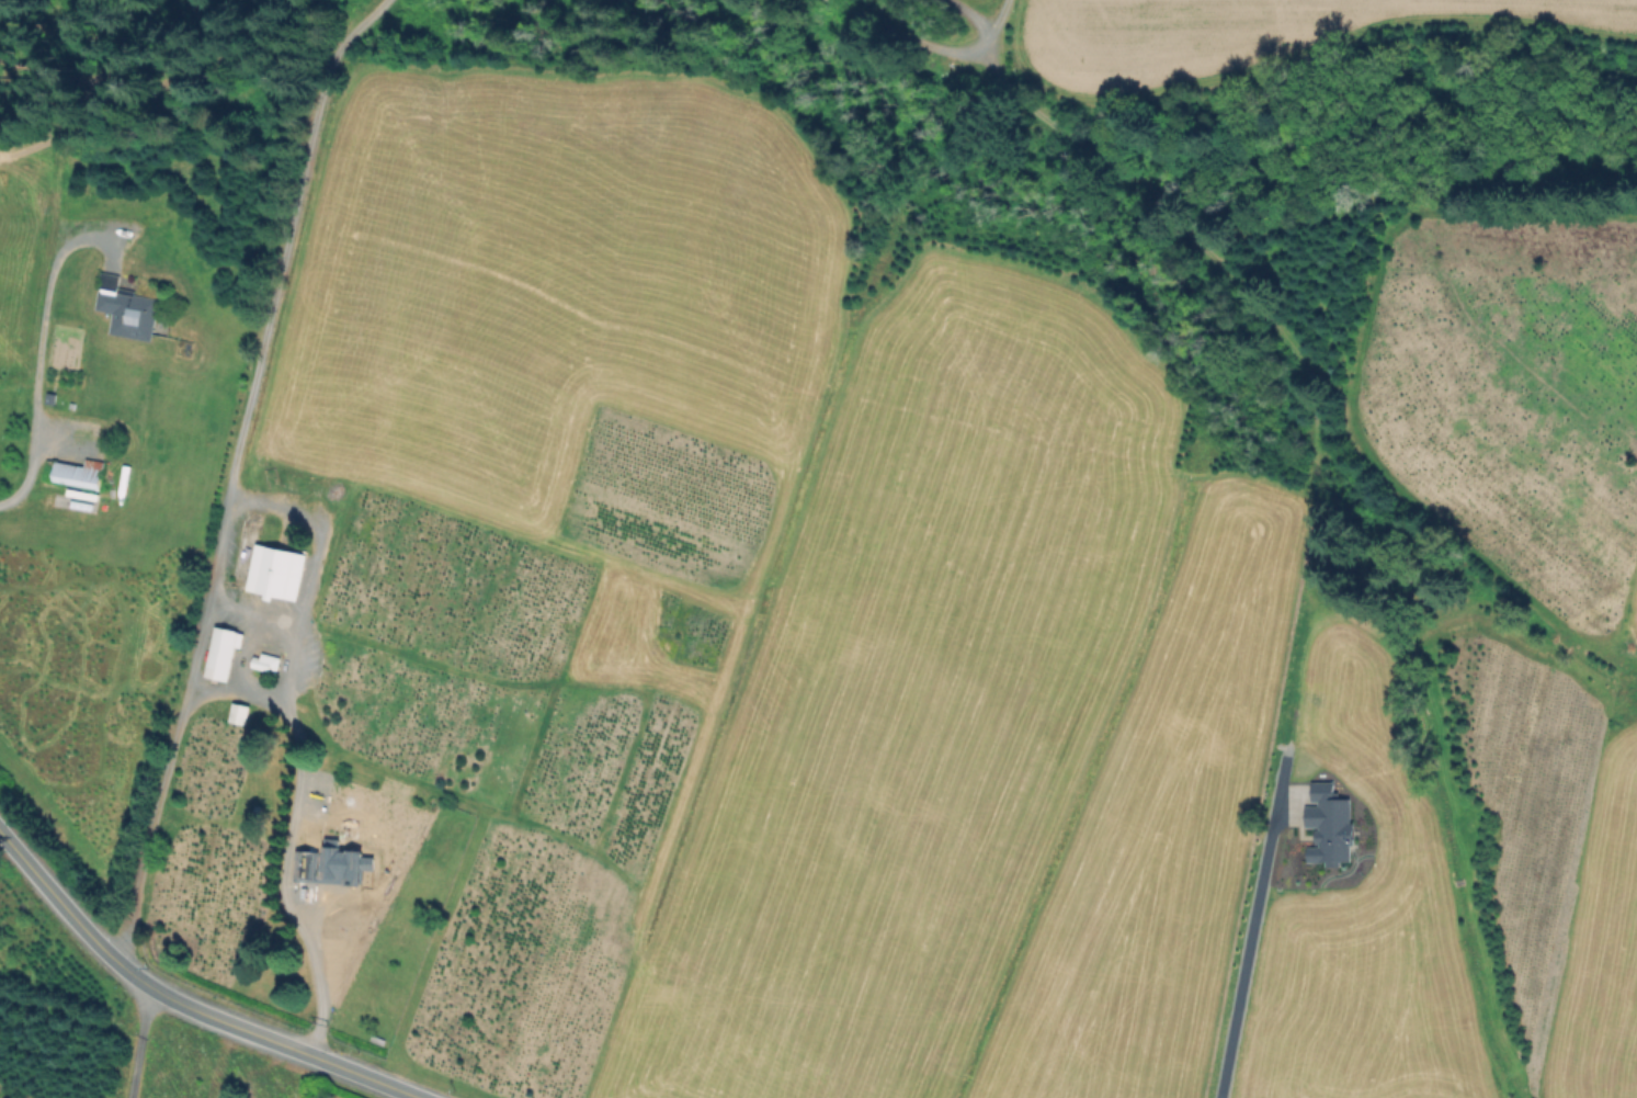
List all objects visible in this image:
road: (932, 47)
road: (286, 244)
building: (125, 306)
road: (32, 352)
building: (52, 398)
building: (77, 473)
building: (272, 575)
road: (207, 597)
building: (218, 655)
road: (237, 695)
building: (308, 830)
building: (345, 863)
road: (285, 882)
road: (1240, 947)
road: (183, 1004)
road: (141, 1042)

